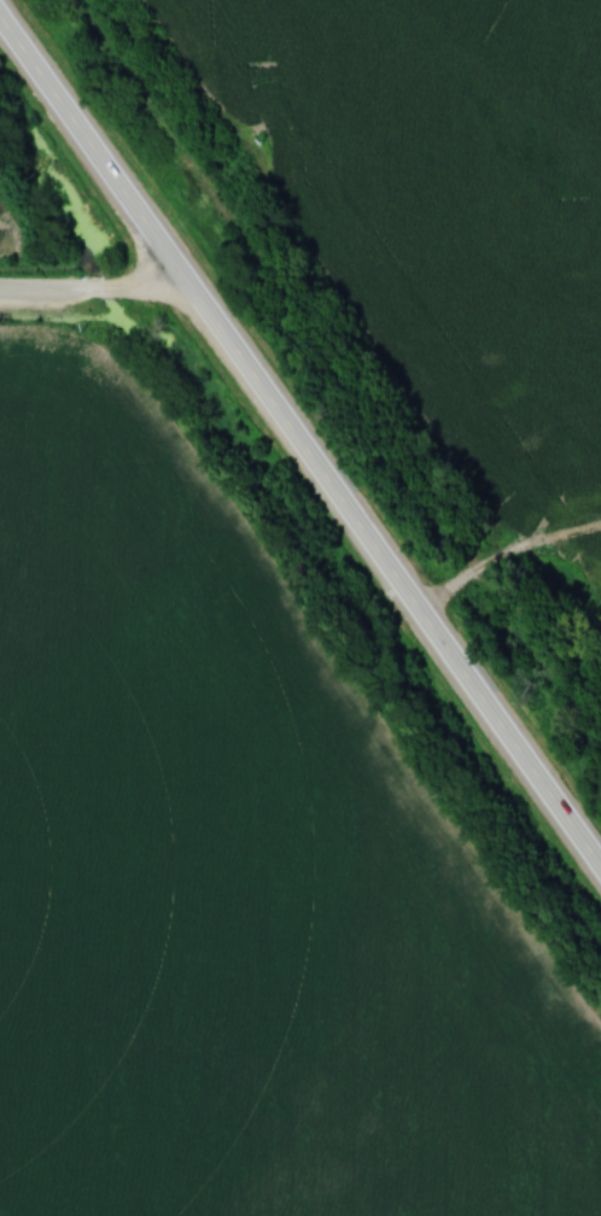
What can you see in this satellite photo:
road: (48, 191)
road: (300, 444)

